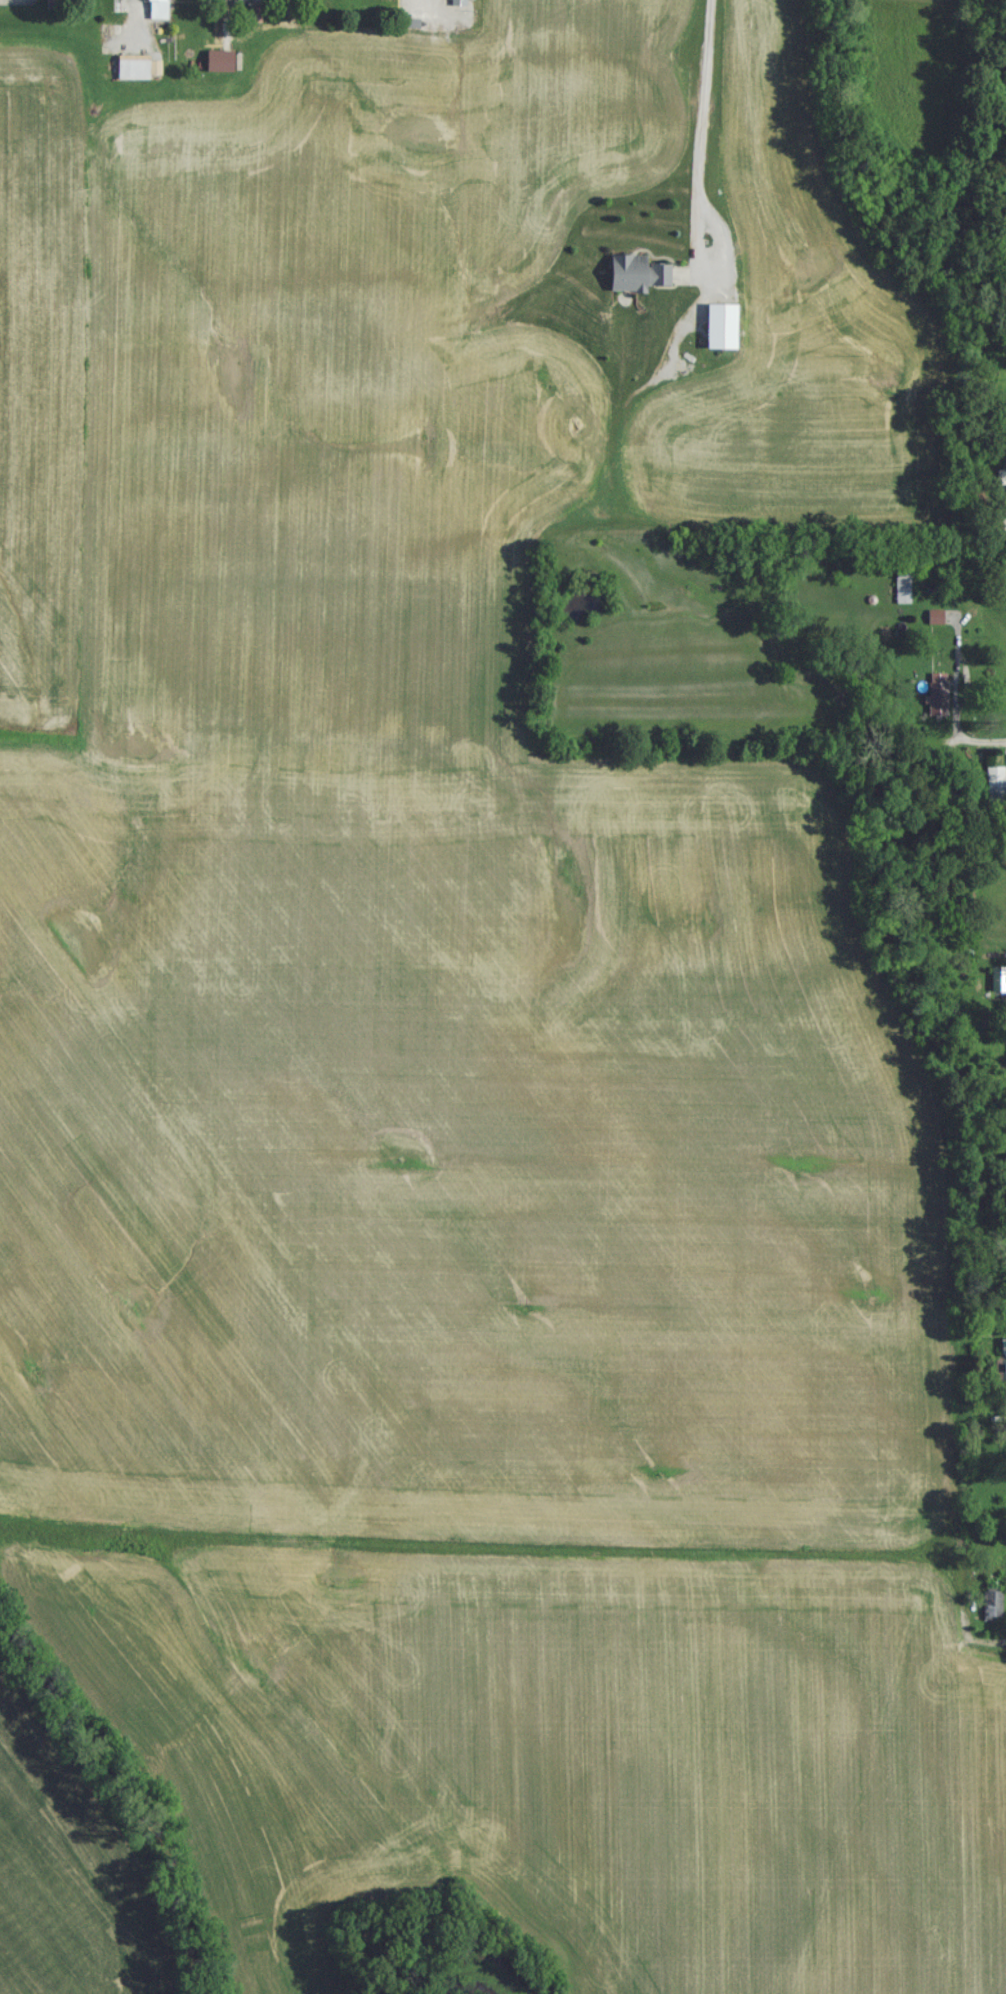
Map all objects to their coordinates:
building: (458, 2)
building: (156, 13)
building: (131, 74)
building: (634, 280)
building: (718, 333)
building: (934, 624)
building: (937, 701)
road: (977, 741)
building: (995, 790)
building: (1004, 1014)
building: (1002, 1371)
building: (994, 1610)
road: (990, 1647)

